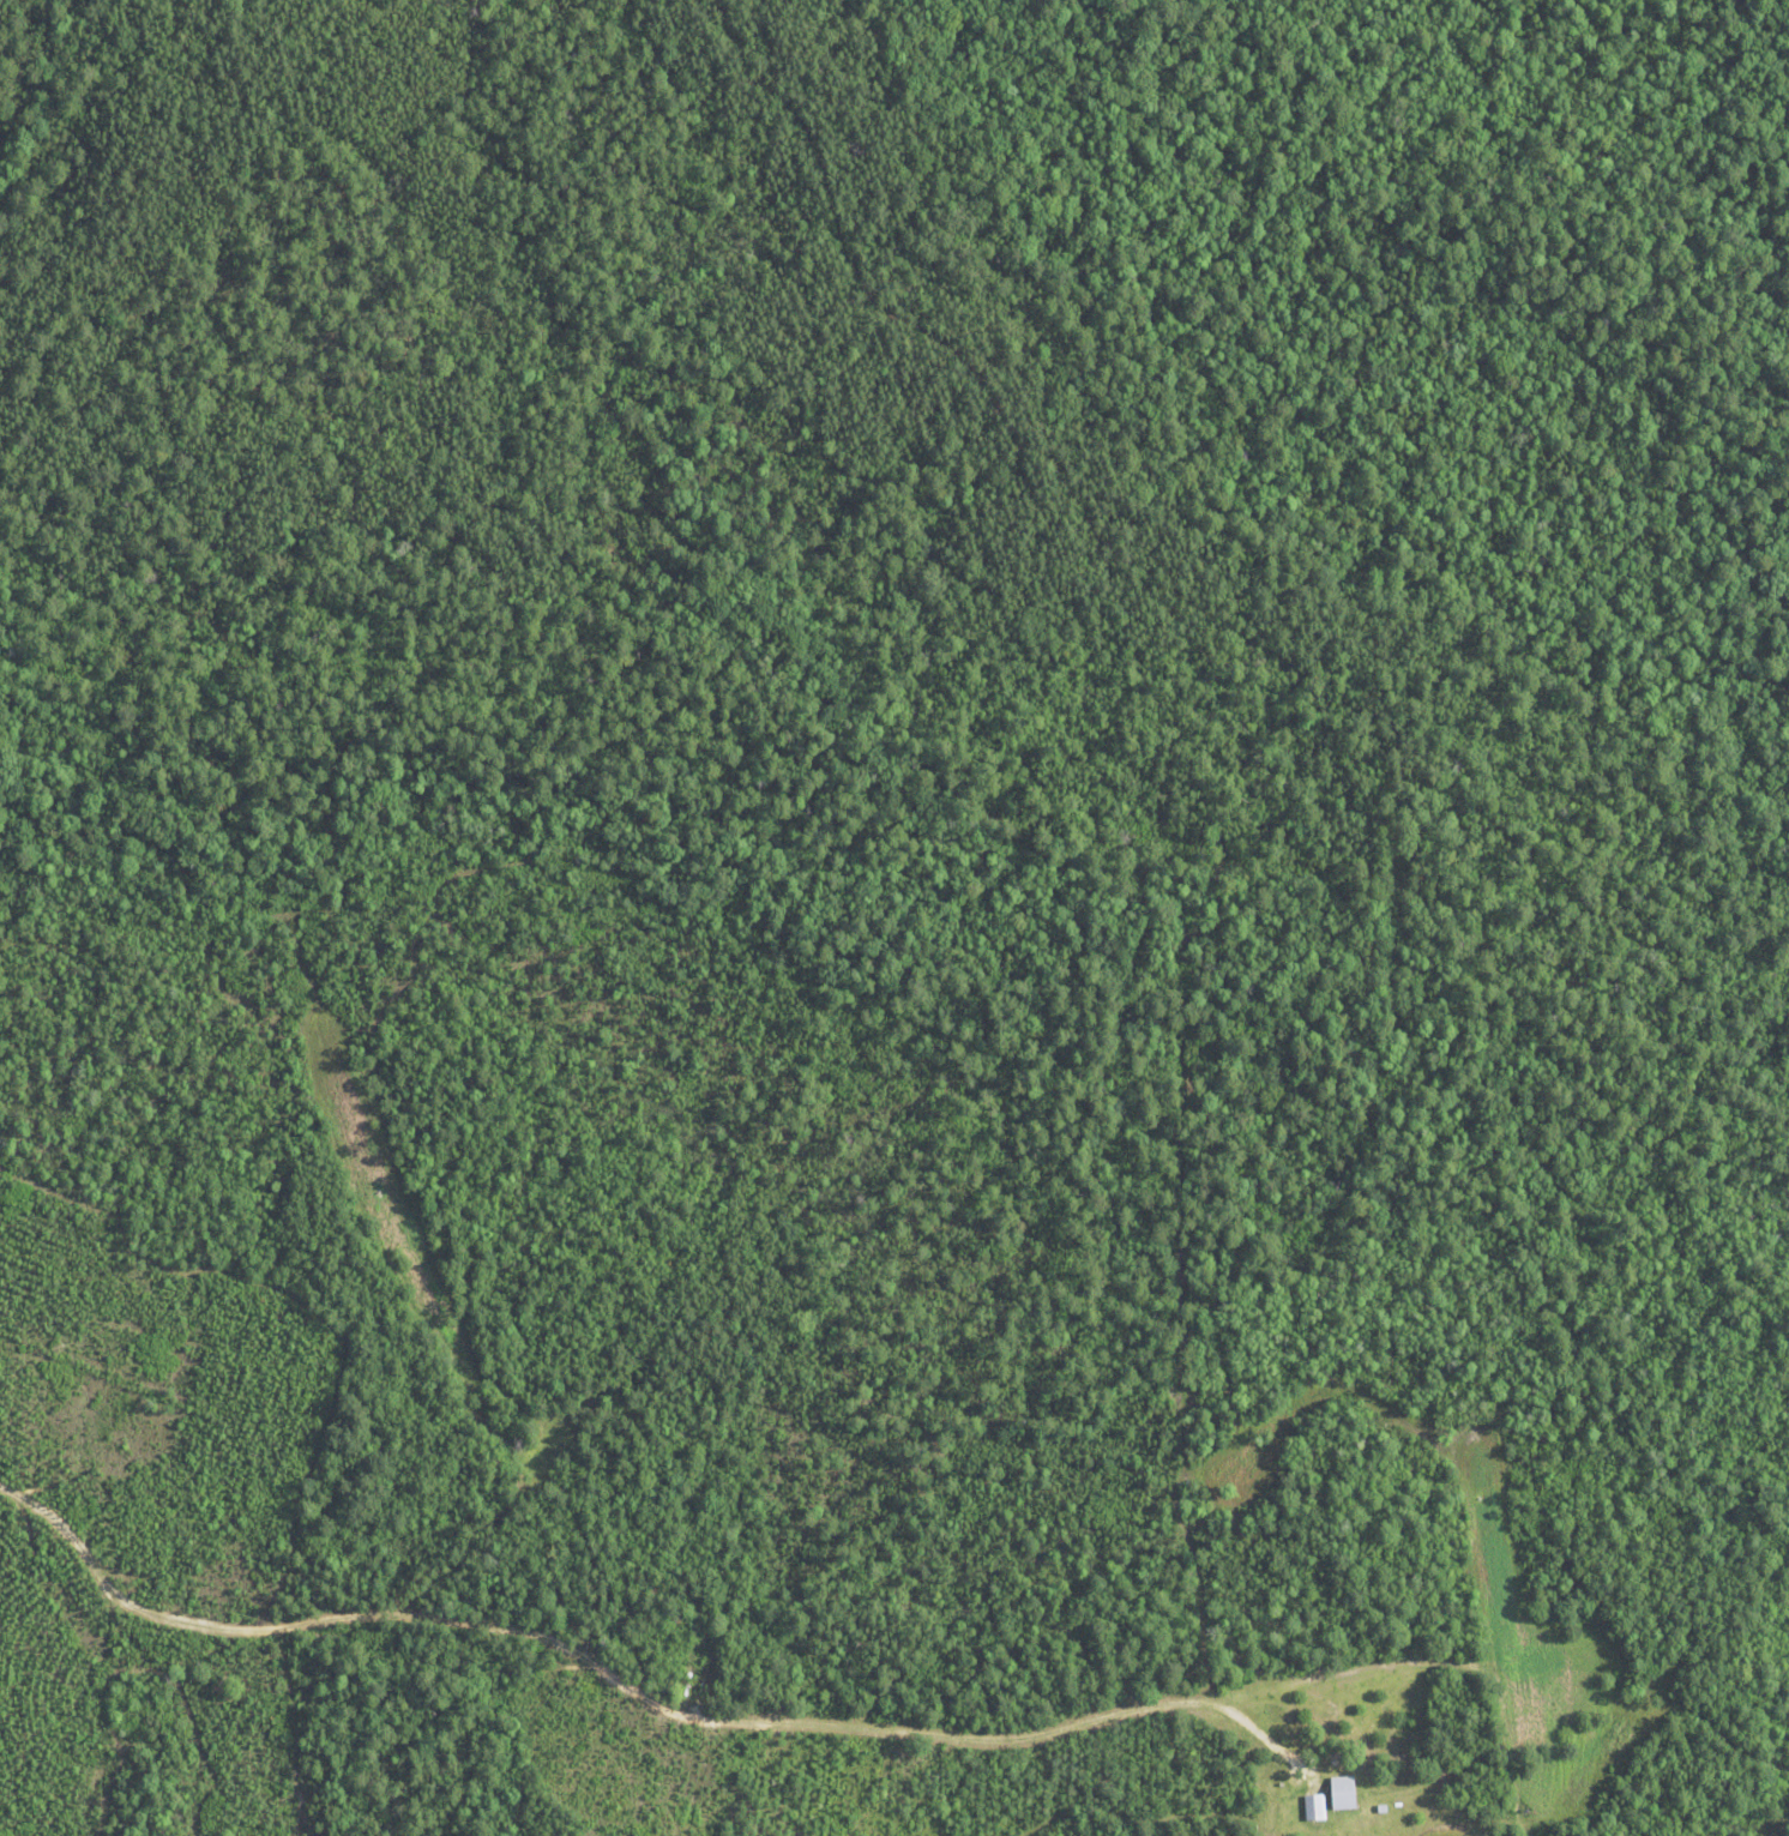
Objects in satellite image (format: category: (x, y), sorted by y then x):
building: (1341, 1793)
building: (1313, 1807)

